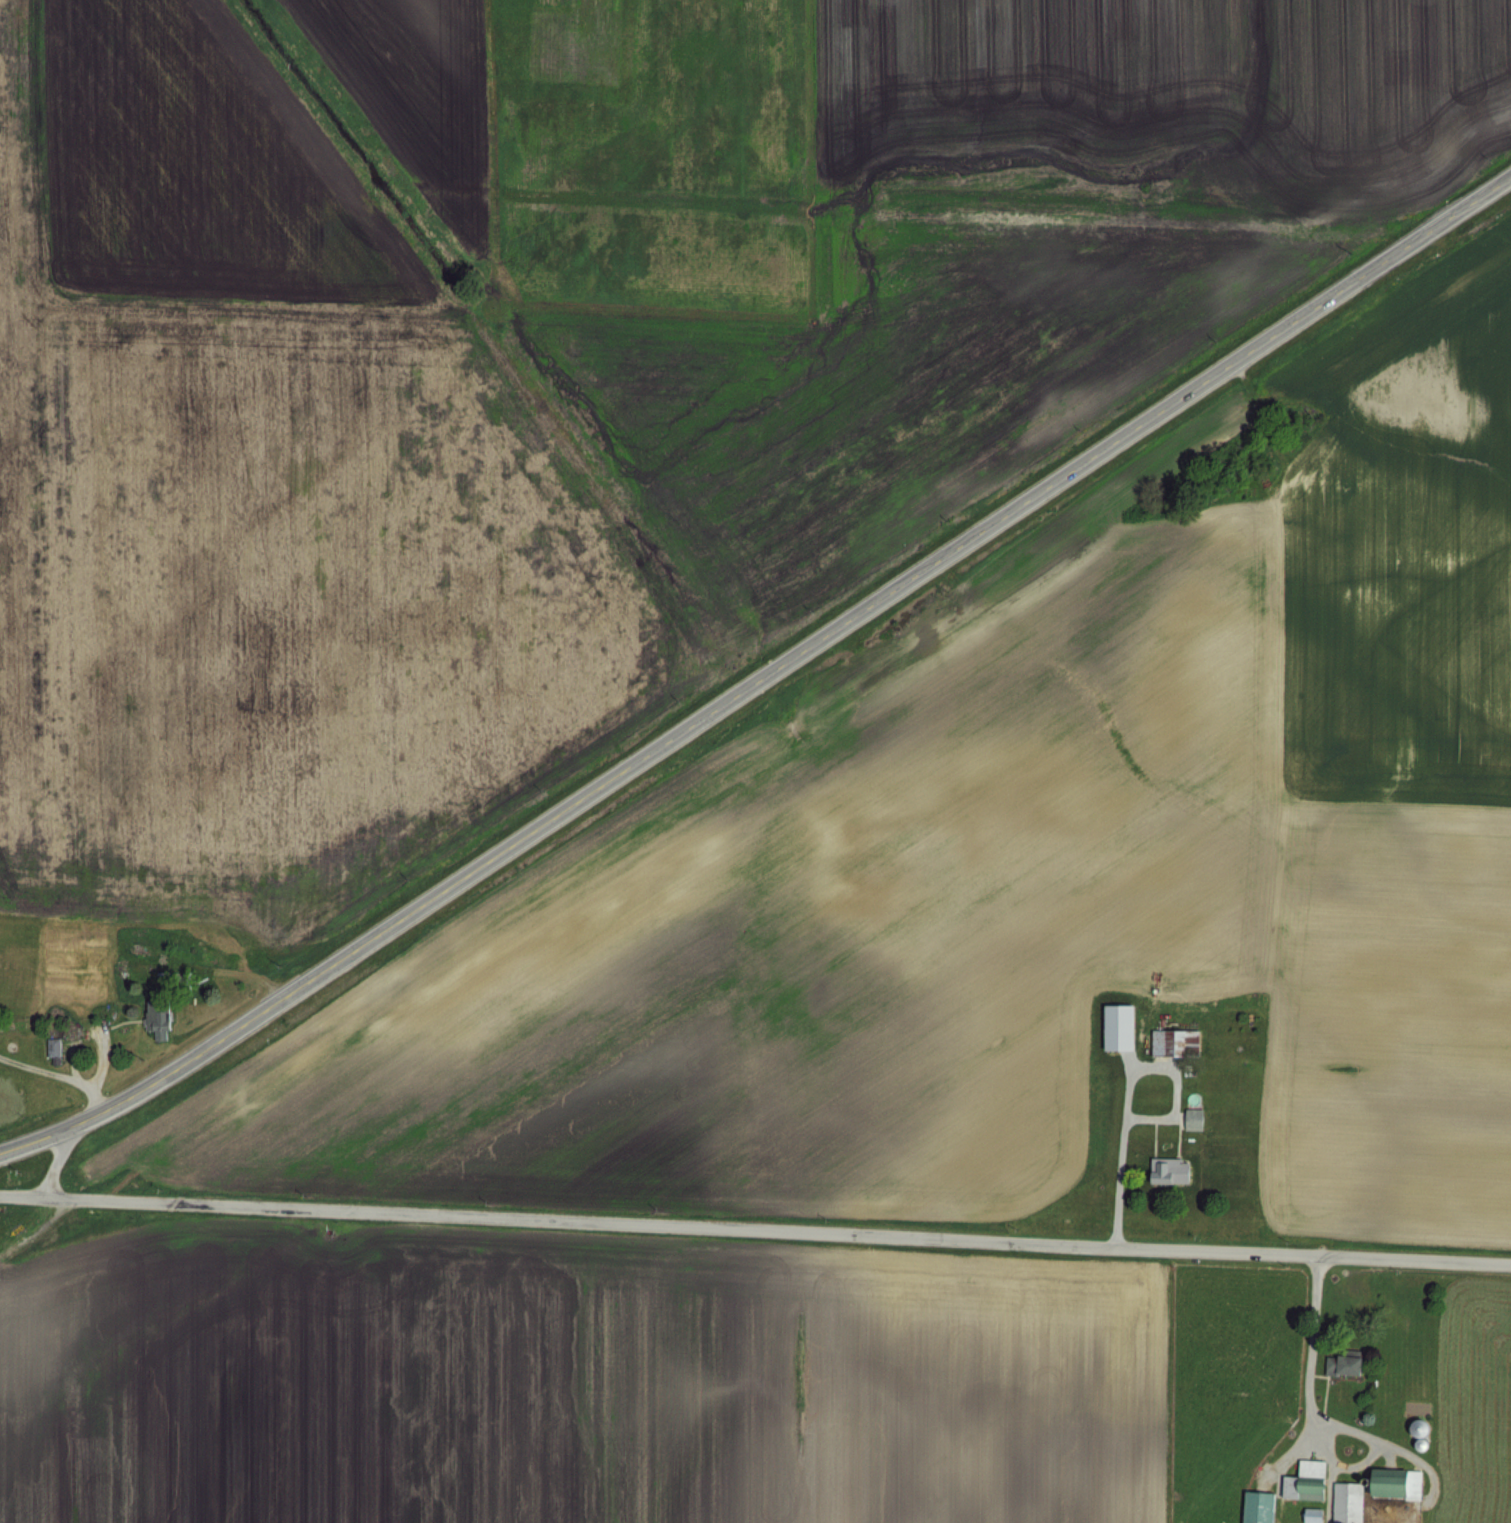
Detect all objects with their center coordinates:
crop: (770, 582)
road: (762, 679)
building: (154, 1015)
building: (1113, 1026)
road: (89, 1030)
building: (1171, 1041)
building: (47, 1046)
building: (54, 1050)
road: (57, 1073)
road: (1128, 1091)
building: (1190, 1116)
road: (56, 1162)
building: (1164, 1169)
road: (755, 1228)
crop: (760, 1354)
road: (1312, 1358)
building: (1338, 1362)
building: (1424, 1434)
building: (1299, 1479)
building: (1389, 1481)
building: (1342, 1503)
building: (1251, 1507)
building: (1307, 1514)

